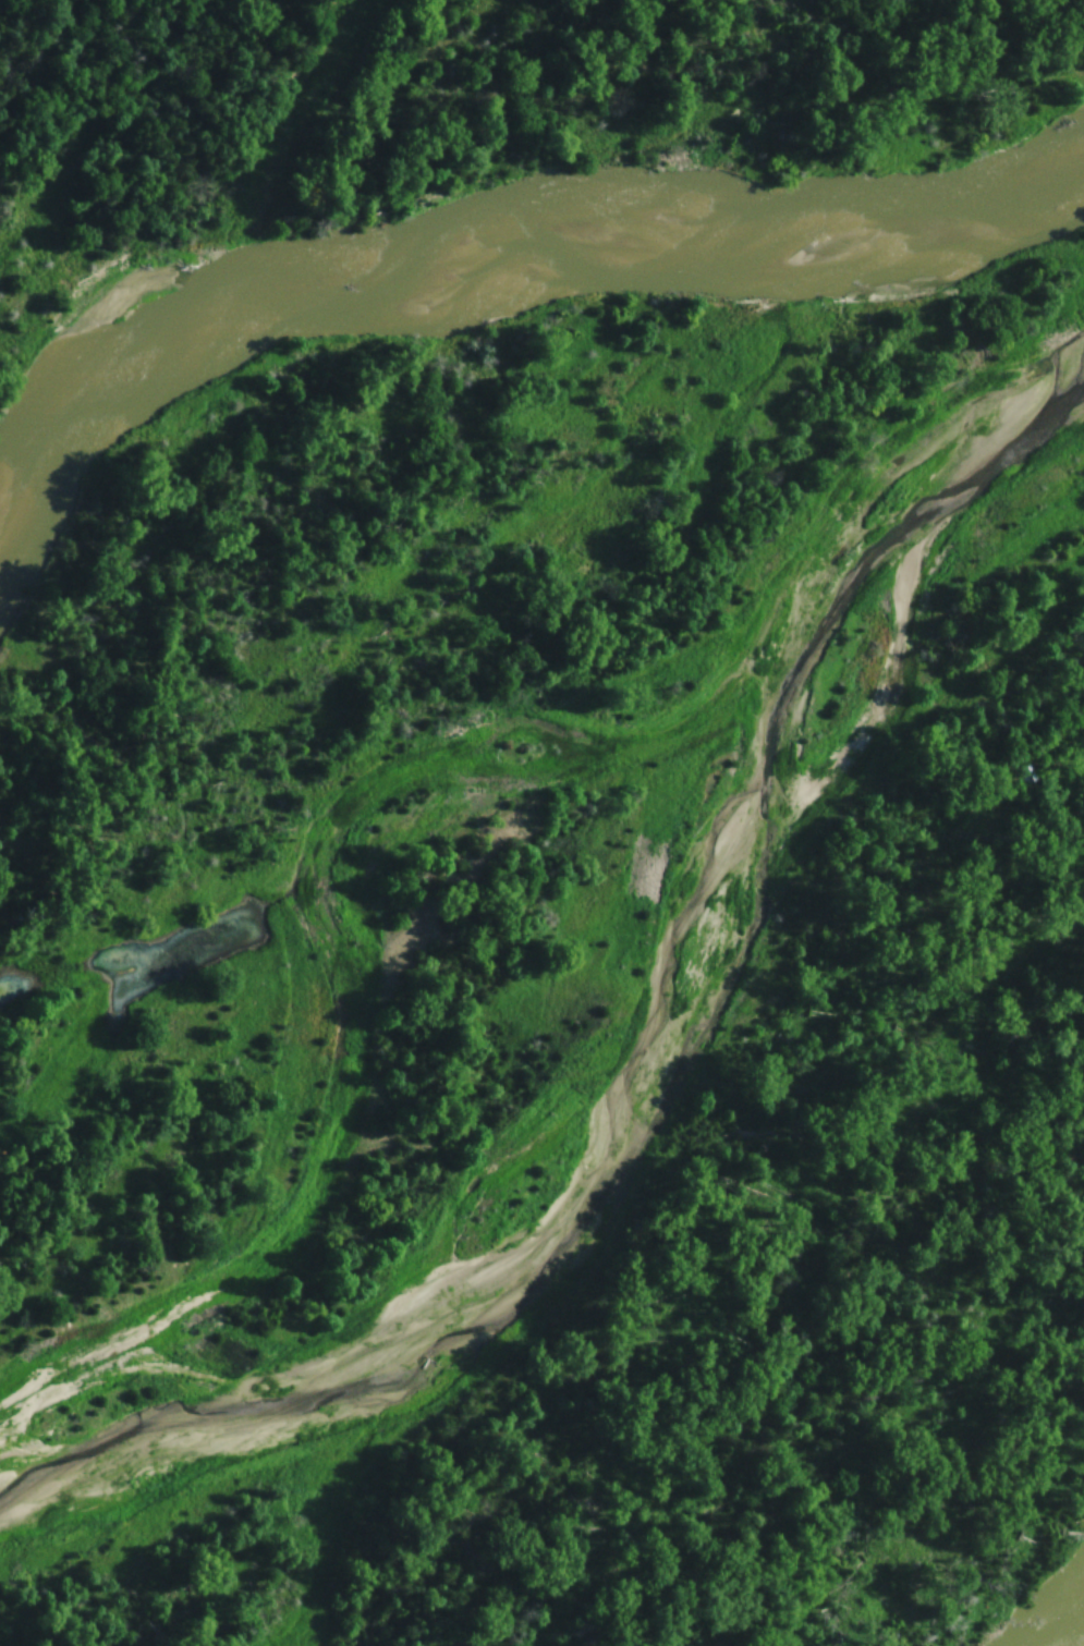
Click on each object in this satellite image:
building: (1021, 772)

